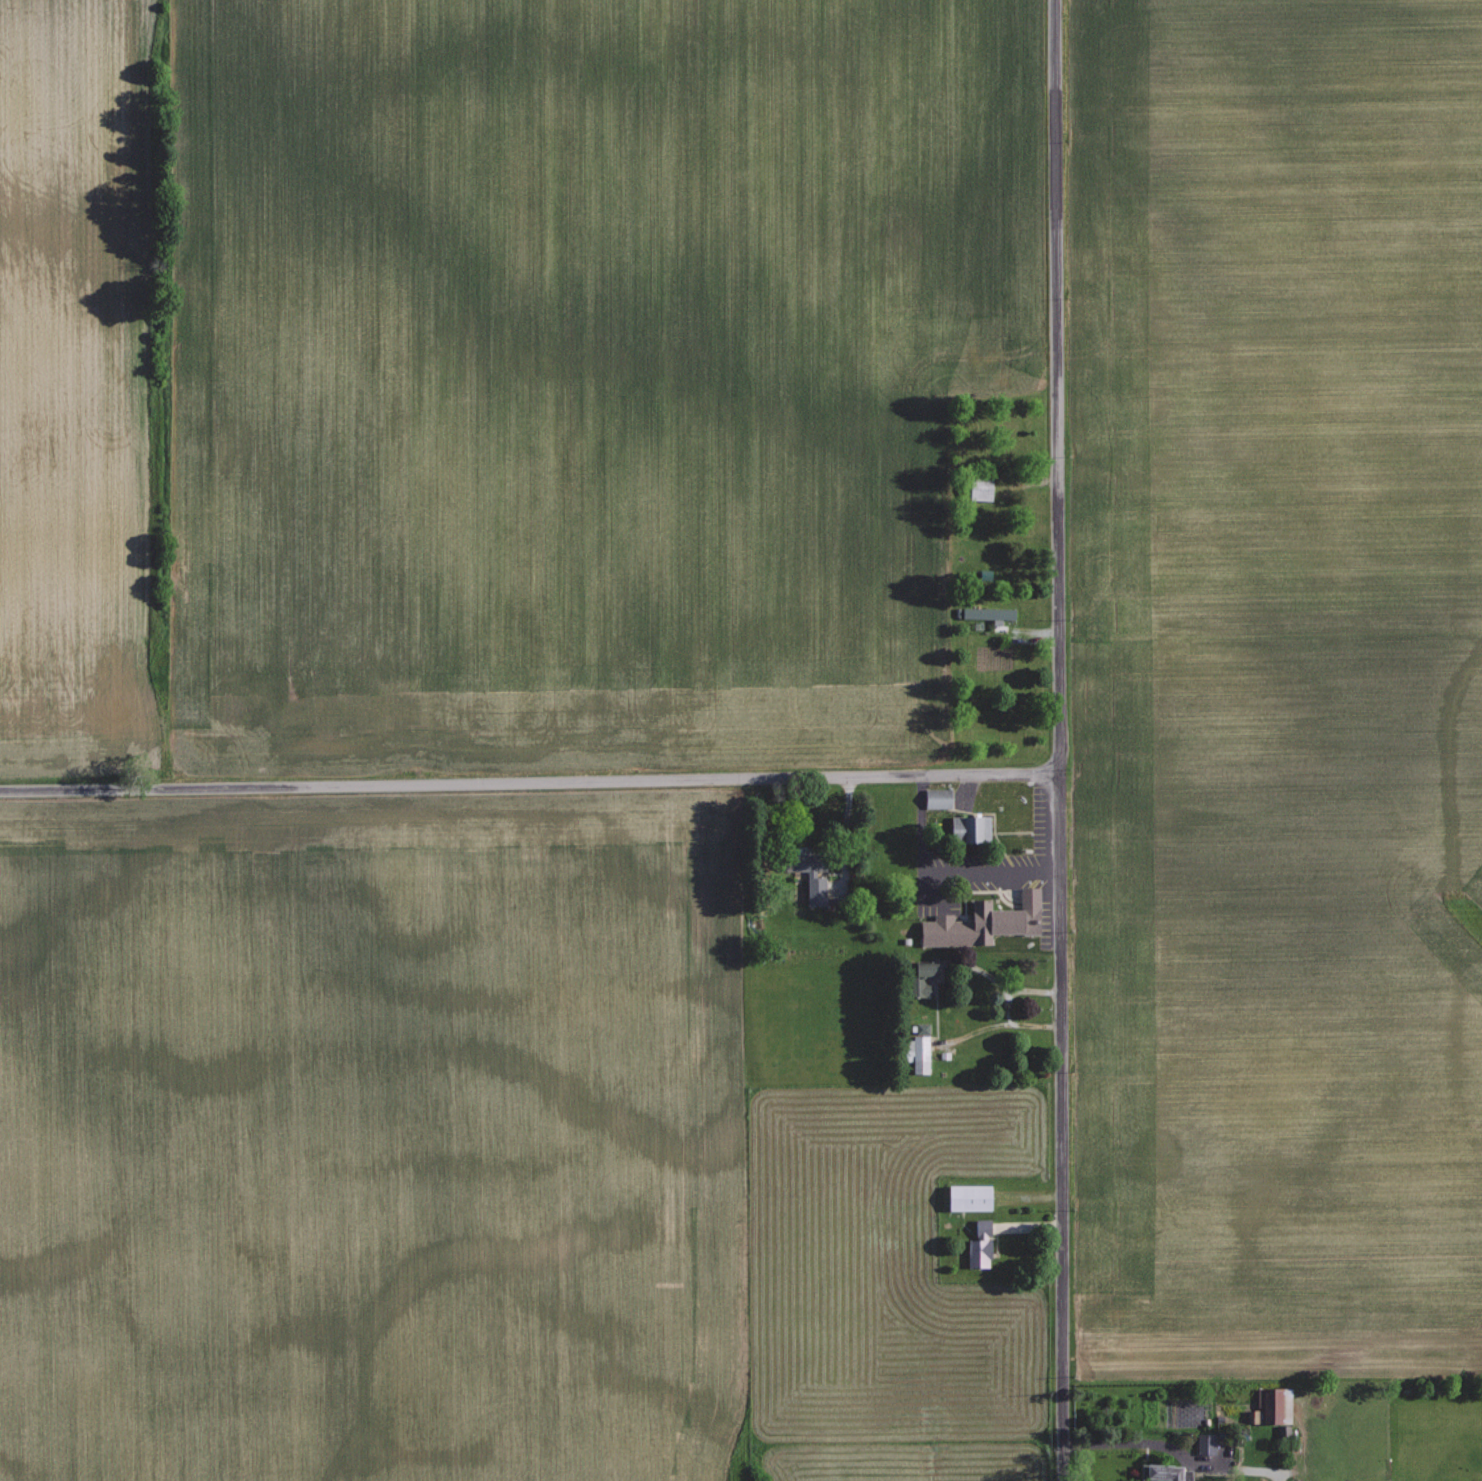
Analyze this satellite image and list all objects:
building: (979, 488)
building: (988, 613)
road: (1058, 740)
road: (529, 779)
building: (936, 798)
building: (969, 828)
building: (809, 881)
building: (982, 922)
building: (920, 979)
building: (918, 1053)
building: (968, 1197)
building: (978, 1244)
building: (1271, 1407)
building: (1204, 1443)
building: (1165, 1472)

